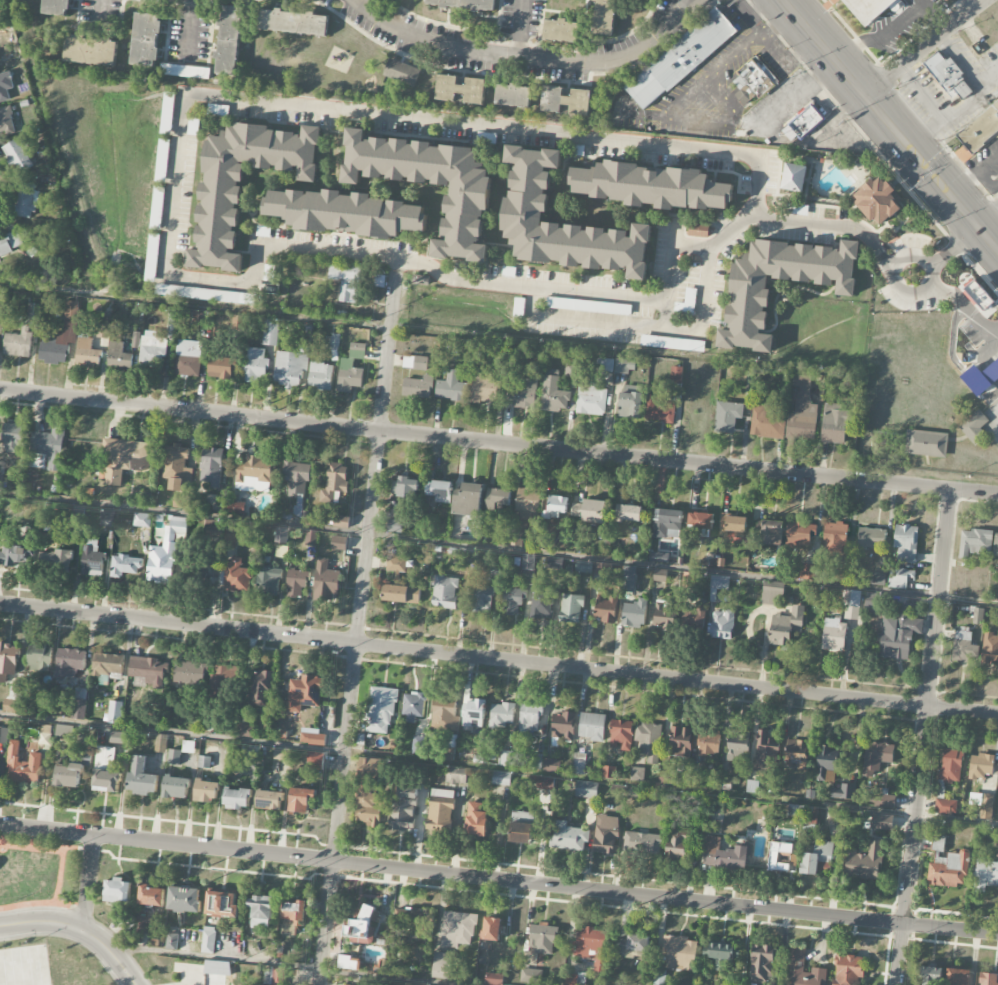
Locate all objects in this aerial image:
building: (464, 4)
building: (56, 7)
building: (869, 8)
building: (604, 18)
road: (799, 21)
building: (293, 22)
road: (519, 28)
building: (560, 30)
building: (146, 39)
road: (881, 39)
building: (229, 40)
building: (0, 47)
road: (920, 47)
building: (91, 50)
road: (732, 55)
road: (527, 58)
building: (679, 58)
building: (185, 71)
building: (401, 72)
building: (948, 76)
building: (754, 81)
road: (991, 83)
building: (5, 86)
building: (461, 89)
building: (514, 96)
building: (566, 100)
road: (965, 104)
building: (6, 121)
building: (803, 124)
building: (980, 129)
road: (52, 147)
road: (907, 149)
building: (18, 154)
building: (161, 167)
road: (973, 174)
building: (794, 177)
building: (652, 186)
building: (528, 195)
building: (26, 200)
building: (879, 201)
building: (157, 206)
building: (466, 211)
building: (348, 213)
building: (218, 215)
road: (987, 219)
building: (698, 230)
building: (9, 243)
road: (955, 247)
road: (906, 251)
building: (151, 263)
building: (269, 273)
road: (204, 279)
building: (346, 281)
building: (380, 281)
building: (204, 294)
building: (749, 295)
building: (978, 295)
road: (640, 300)
building: (687, 303)
road: (964, 303)
road: (194, 306)
building: (586, 306)
building: (34, 310)
building: (71, 310)
building: (236, 322)
building: (171, 323)
building: (103, 331)
building: (269, 332)
building: (332, 342)
building: (18, 343)
building: (672, 343)
building: (57, 344)
building: (152, 350)
building: (86, 354)
building: (118, 356)
building: (187, 358)
building: (415, 362)
building: (293, 363)
building: (254, 365)
building: (605, 365)
building: (625, 366)
building: (220, 368)
building: (351, 369)
building: (572, 370)
building: (320, 376)
building: (976, 380)
building: (418, 387)
building: (451, 387)
building: (484, 387)
building: (523, 393)
building: (553, 393)
building: (591, 399)
building: (630, 402)
building: (660, 409)
building: (802, 413)
building: (727, 416)
building: (766, 422)
building: (834, 423)
building: (974, 427)
building: (13, 437)
road: (498, 443)
building: (926, 443)
building: (49, 447)
building: (126, 458)
building: (1, 462)
building: (175, 467)
building: (211, 467)
building: (255, 469)
building: (297, 477)
building: (334, 482)
building: (254, 488)
building: (405, 488)
building: (438, 491)
building: (497, 499)
building: (468, 500)
building: (181, 502)
building: (528, 503)
building: (557, 506)
building: (590, 511)
building: (628, 513)
building: (107, 518)
building: (141, 520)
building: (667, 524)
building: (395, 526)
building: (734, 528)
building: (212, 529)
building: (771, 533)
building: (801, 534)
building: (282, 535)
building: (230, 537)
building: (311, 538)
building: (871, 538)
building: (515, 539)
building: (834, 539)
building: (975, 542)
building: (339, 543)
building: (905, 544)
building: (995, 544)
road: (498, 549)
building: (281, 552)
building: (165, 553)
building: (13, 555)
building: (467, 556)
building: (55, 561)
building: (92, 562)
building: (396, 564)
building: (125, 566)
building: (583, 566)
building: (496, 571)
building: (806, 572)
building: (236, 575)
building: (842, 576)
building: (900, 578)
building: (628, 579)
building: (659, 579)
building: (326, 580)
building: (692, 580)
building: (268, 581)
building: (296, 583)
building: (719, 583)
building: (445, 592)
building: (401, 594)
building: (772, 596)
building: (482, 599)
building: (512, 601)
building: (541, 603)
building: (852, 605)
building: (571, 609)
building: (606, 609)
building: (634, 614)
building: (665, 614)
building: (977, 615)
building: (694, 616)
road: (359, 622)
building: (722, 624)
building: (786, 626)
building: (898, 634)
building: (834, 635)
building: (964, 647)
building: (990, 648)
building: (39, 658)
road: (499, 658)
building: (8, 661)
building: (69, 663)
building: (108, 664)
building: (148, 670)
building: (190, 673)
building: (220, 680)
building: (260, 688)
building: (304, 693)
building: (13, 700)
building: (79, 704)
building: (414, 707)
building: (381, 710)
building: (115, 712)
building: (444, 714)
building: (501, 715)
building: (472, 717)
building: (528, 719)
building: (563, 726)
building: (592, 727)
building: (64, 731)
building: (247, 731)
building: (621, 734)
building: (3, 735)
building: (45, 735)
building: (313, 737)
road: (925, 737)
building: (119, 738)
building: (648, 741)
building: (680, 742)
building: (161, 743)
building: (708, 743)
building: (418, 745)
building: (738, 746)
building: (251, 751)
building: (765, 753)
building: (282, 754)
building: (105, 755)
building: (796, 755)
building: (174, 757)
building: (876, 757)
building: (506, 758)
building: (316, 761)
building: (204, 762)
building: (831, 762)
building: (578, 764)
building: (22, 765)
building: (551, 765)
building: (951, 766)
building: (980, 766)
road: (498, 770)
building: (637, 774)
building: (69, 776)
building: (455, 776)
building: (142, 778)
building: (501, 778)
building: (106, 781)
building: (545, 783)
building: (176, 787)
building: (586, 790)
building: (207, 791)
building: (844, 792)
building: (370, 794)
building: (237, 799)
building: (302, 799)
building: (269, 800)
building: (884, 801)
building: (986, 806)
building: (946, 807)
building: (403, 809)
building: (440, 812)
building: (810, 816)
building: (476, 820)
building: (882, 823)
building: (520, 833)
building: (606, 835)
building: (568, 837)
building: (939, 843)
building: (643, 844)
road: (44, 846)
building: (679, 846)
building: (725, 855)
building: (779, 856)
building: (818, 859)
road: (837, 860)
building: (864, 861)
building: (948, 870)
building: (986, 872)
park: (42, 875)
road: (56, 875)
road: (499, 879)
road: (86, 882)
building: (118, 891)
building: (151, 896)
building: (184, 900)
road: (41, 902)
building: (222, 904)
building: (261, 912)
building: (294, 912)
building: (413, 922)
building: (143, 925)
building: (360, 927)
building: (459, 927)
road: (78, 929)
building: (492, 929)
building: (542, 938)
building: (208, 940)
building: (637, 946)
building: (592, 947)
building: (679, 954)
building: (722, 955)
building: (798, 959)
building: (350, 963)
building: (762, 963)
road: (285, 965)
park: (23, 966)
building: (443, 966)
building: (217, 968)
building: (849, 970)
building: (530, 976)
building: (931, 976)
building: (958, 977)
building: (987, 978)
building: (494, 979)
building: (574, 979)

